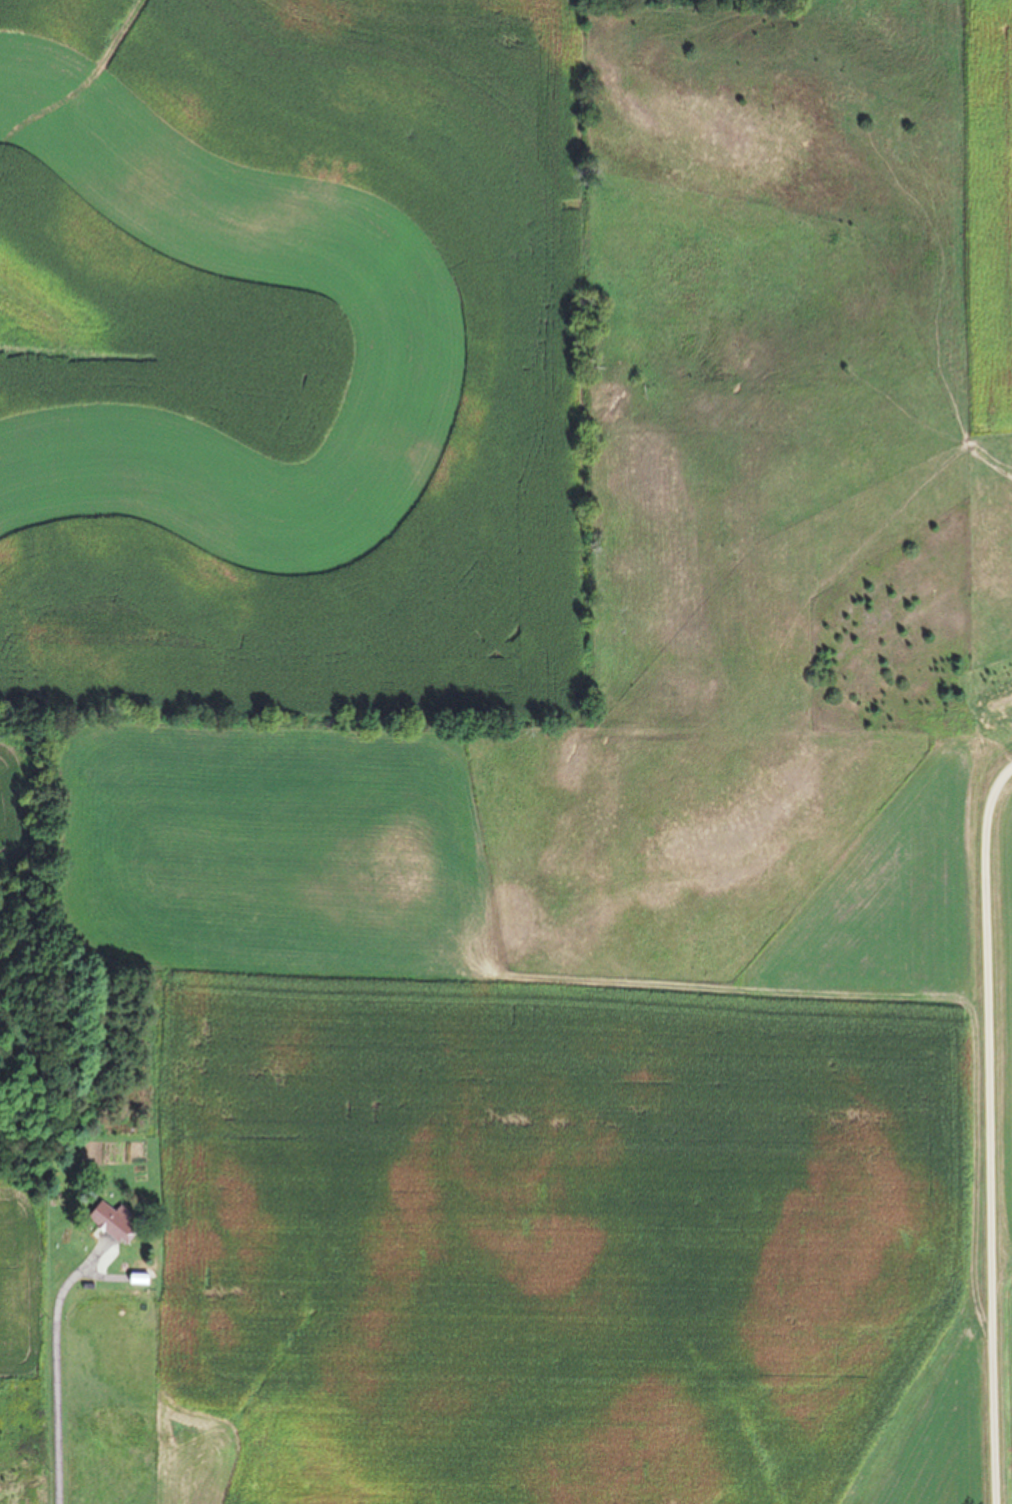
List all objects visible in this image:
road: (990, 1121)
building: (105, 1221)

